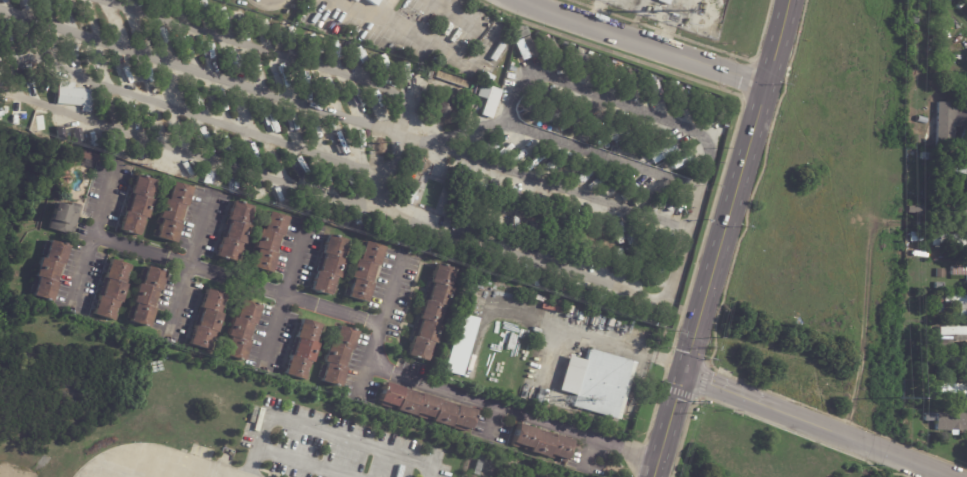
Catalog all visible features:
building: (355, 1)
building: (664, 1)
building: (371, 2)
building: (655, 9)
power substation: (681, 12)
building: (915, 19)
road: (642, 42)
building: (525, 47)
building: (553, 53)
building: (959, 57)
building: (575, 59)
building: (2, 65)
building: (512, 69)
road: (199, 70)
road: (322, 71)
building: (451, 79)
building: (629, 81)
building: (2, 82)
building: (32, 86)
building: (653, 88)
building: (441, 92)
building: (682, 94)
building: (73, 96)
building: (537, 98)
building: (489, 100)
road: (855, 106)
building: (444, 109)
road: (205, 116)
building: (922, 121)
building: (950, 123)
building: (57, 129)
building: (916, 139)
building: (377, 144)
road: (713, 144)
building: (660, 151)
building: (88, 156)
building: (679, 160)
building: (957, 168)
building: (939, 178)
road: (736, 187)
building: (406, 195)
road: (836, 200)
building: (137, 206)
road: (694, 209)
building: (915, 210)
building: (956, 211)
building: (170, 213)
building: (63, 218)
road: (91, 231)
building: (233, 231)
building: (960, 241)
building: (268, 243)
road: (500, 247)
building: (953, 251)
building: (930, 253)
road: (187, 262)
building: (328, 266)
building: (48, 270)
building: (959, 271)
building: (363, 273)
building: (940, 273)
road: (235, 279)
building: (940, 286)
building: (110, 290)
road: (283, 292)
building: (145, 296)
building: (598, 297)
building: (607, 297)
building: (936, 299)
building: (957, 302)
building: (939, 308)
building: (430, 314)
road: (863, 317)
building: (207, 320)
road: (379, 323)
building: (241, 331)
road: (591, 336)
building: (951, 336)
building: (510, 342)
building: (460, 346)
building: (304, 349)
building: (338, 356)
building: (951, 360)
traffic signals: (683, 374)
building: (598, 383)
building: (955, 389)
building: (426, 408)
road: (512, 412)
building: (930, 417)
building: (951, 422)
road: (668, 425)
road: (819, 425)
road: (325, 430)
building: (910, 439)
building: (540, 444)
road: (805, 447)
road: (836, 455)
road: (165, 459)
building: (476, 468)

